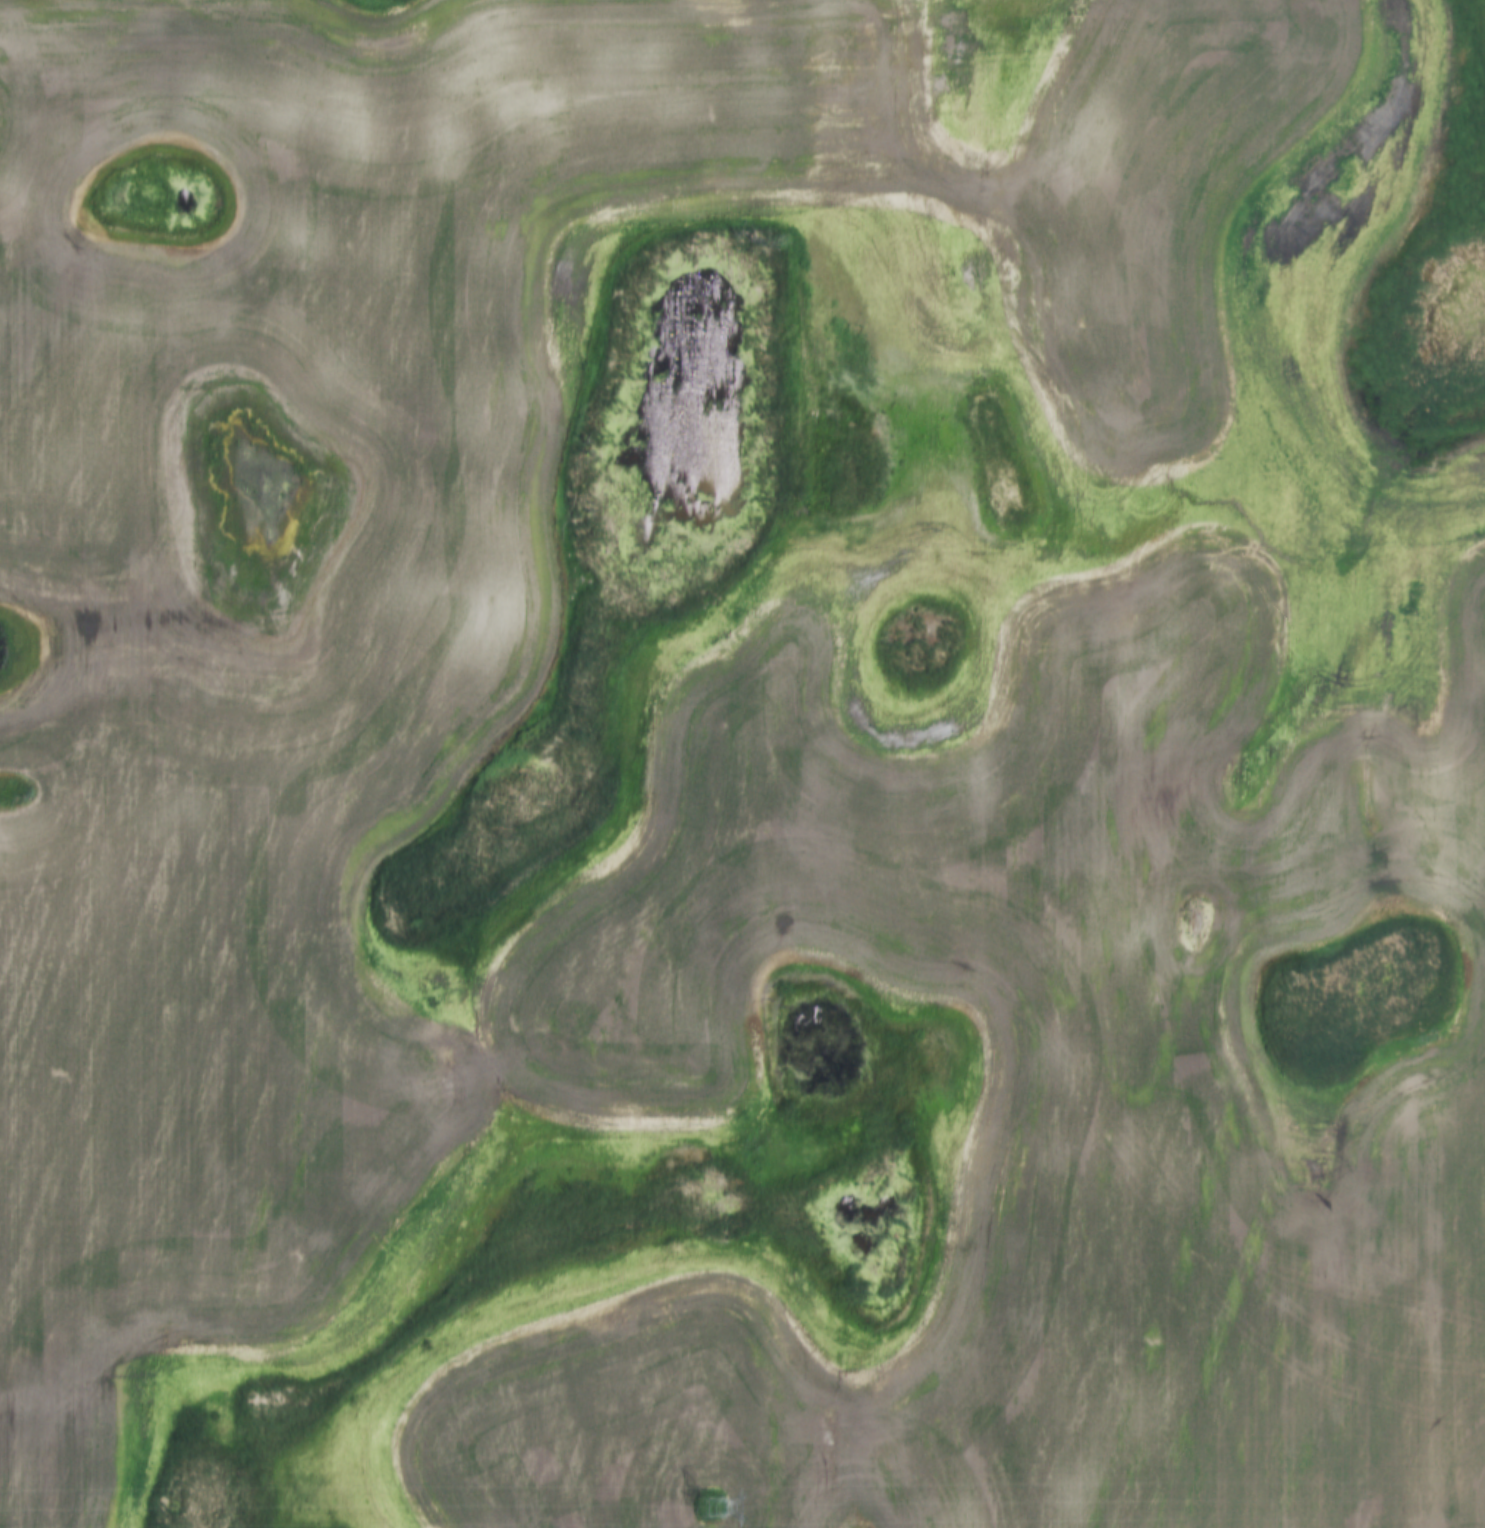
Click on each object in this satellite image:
power tower: (708, 1504)

